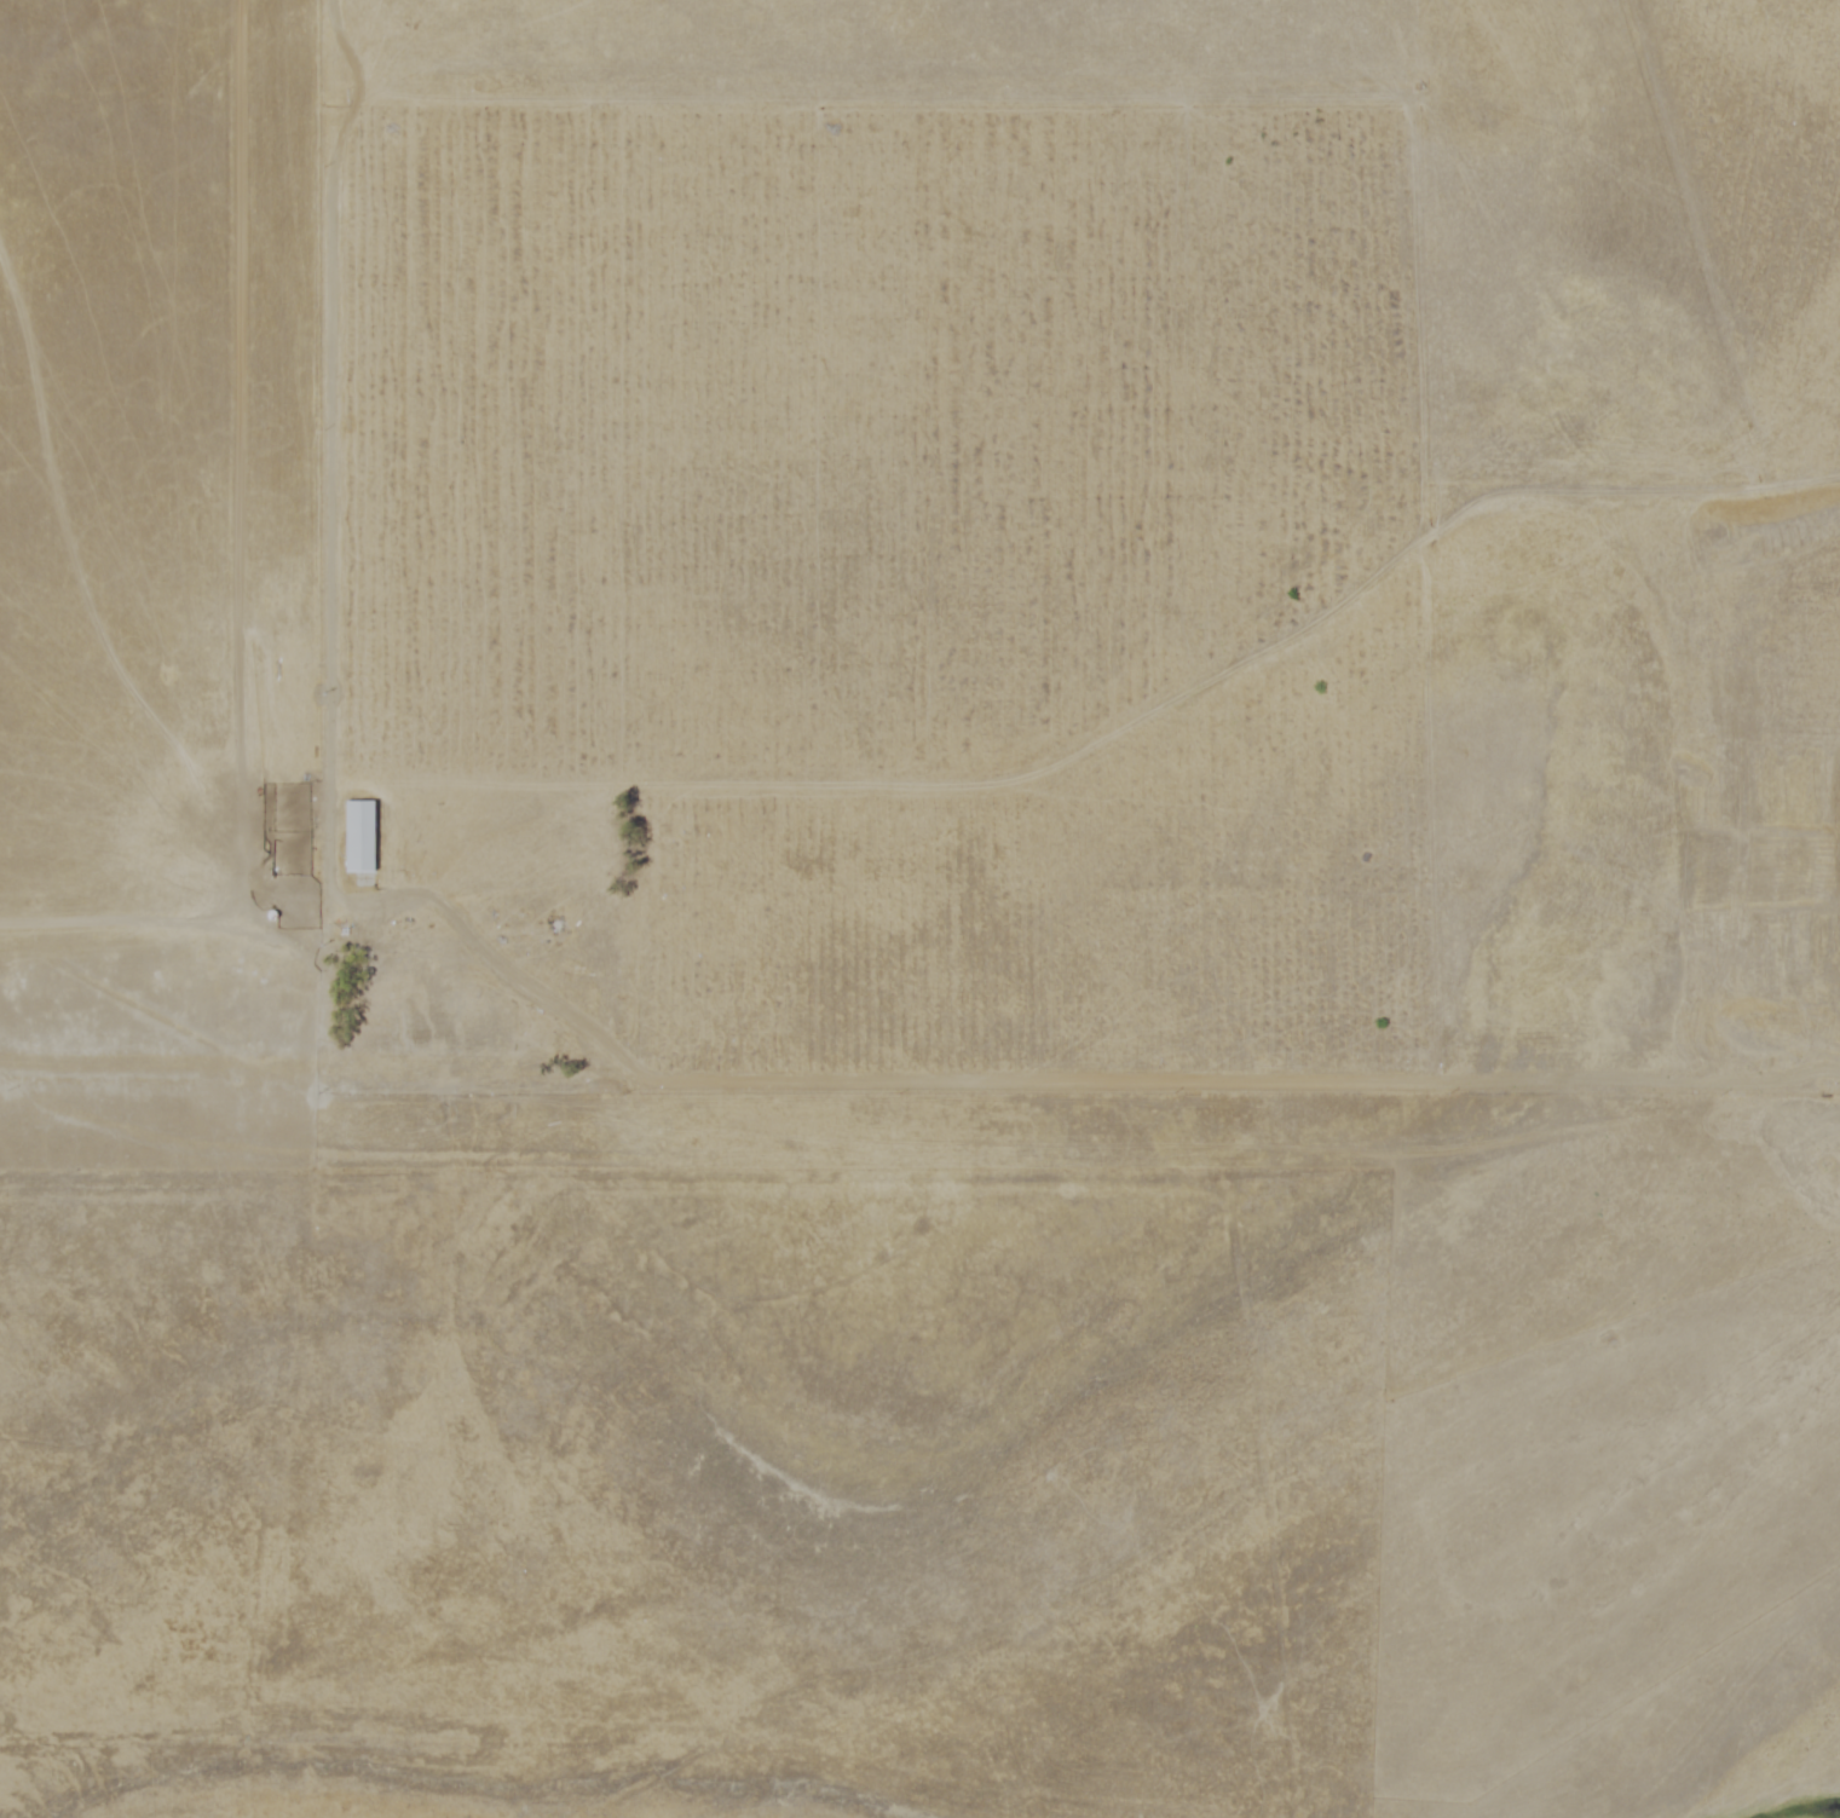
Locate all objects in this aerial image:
crop: (1755, 190)
crop: (876, 542)
building: (352, 831)
quarry: (1835, 918)
park: (697, 1506)
quarry: (1806, 1794)

